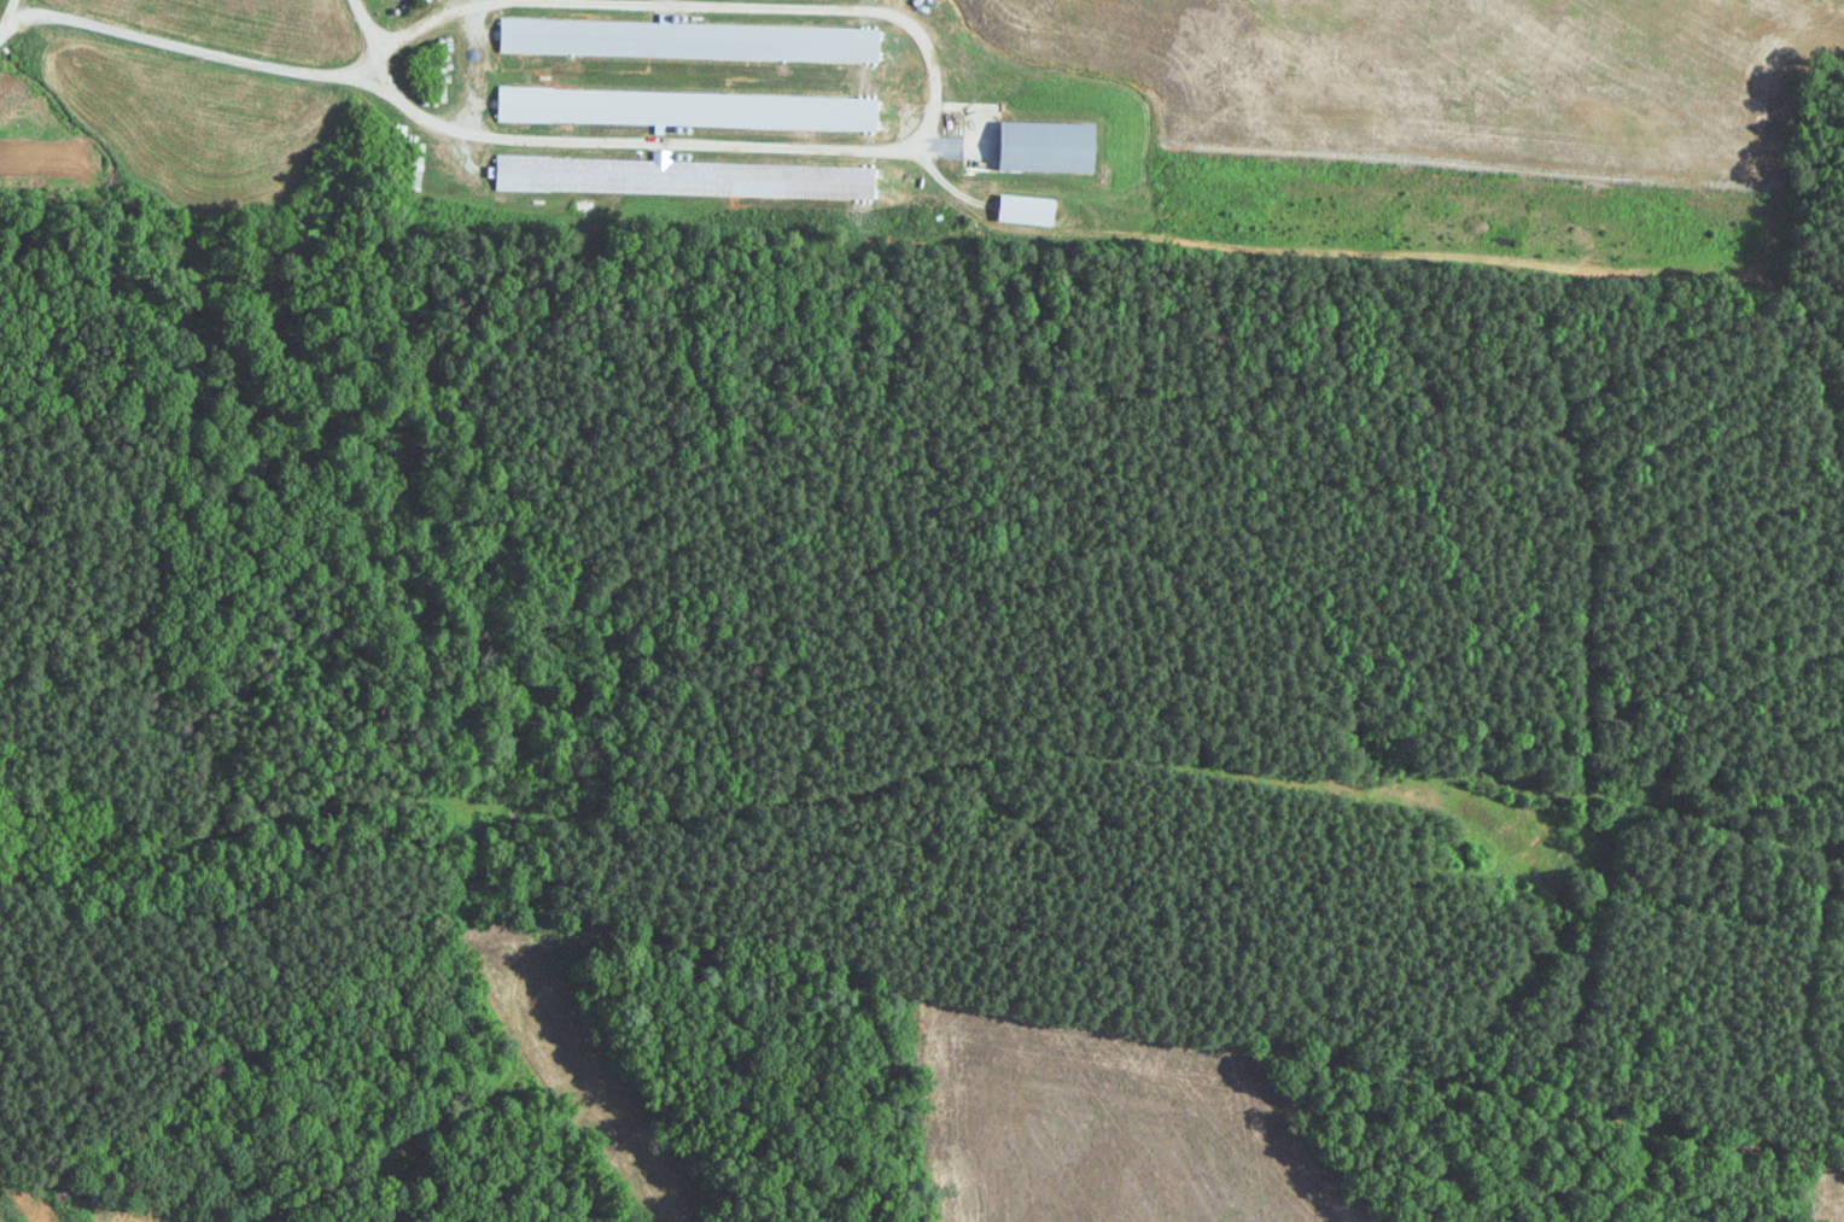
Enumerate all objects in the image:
road: (5, 12)
road: (223, 55)
road: (478, 68)
building: (567, 104)
road: (935, 104)
building: (1052, 146)

